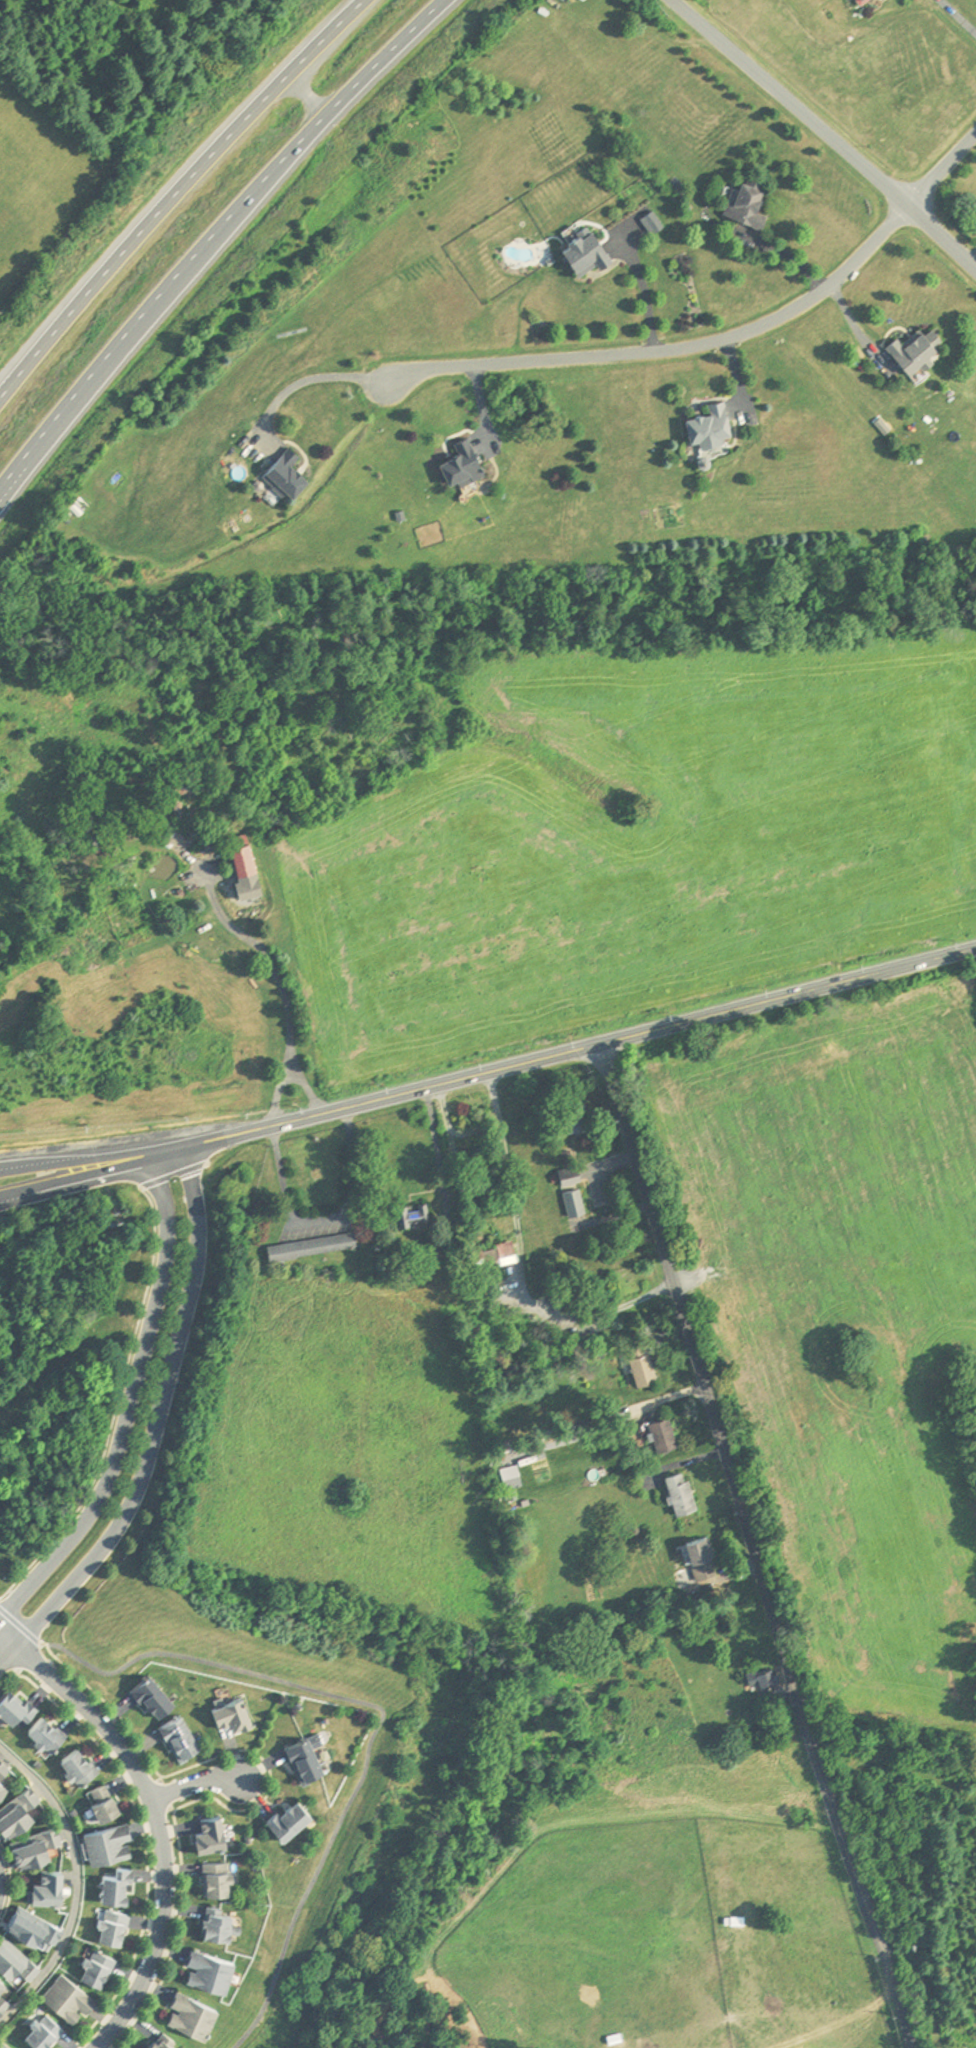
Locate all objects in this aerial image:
building: (874, 1)
building: (861, 2)
road: (957, 17)
road: (311, 92)
road: (827, 133)
road: (941, 171)
road: (175, 194)
building: (759, 205)
building: (660, 225)
road: (215, 239)
road: (784, 254)
building: (597, 257)
road: (971, 258)
road: (652, 297)
road: (854, 326)
road: (665, 349)
building: (915, 350)
road: (305, 379)
building: (722, 429)
building: (473, 466)
building: (296, 477)
building: (198, 792)
building: (96, 841)
crop: (642, 845)
building: (244, 871)
road: (258, 935)
road: (565, 1054)
road: (289, 1075)
building: (587, 1118)
road: (76, 1164)
road: (440, 1169)
building: (579, 1169)
road: (76, 1177)
building: (582, 1204)
building: (422, 1217)
road: (325, 1221)
building: (320, 1247)
building: (513, 1251)
road: (521, 1269)
crop: (847, 1318)
building: (652, 1371)
road: (111, 1391)
road: (128, 1404)
road: (610, 1423)
road: (156, 1432)
building: (672, 1436)
building: (691, 1495)
road: (759, 1547)
building: (711, 1560)
road: (2, 1611)
road: (47, 1644)
building: (773, 1680)
building: (151, 1693)
building: (15, 1703)
building: (233, 1712)
building: (49, 1733)
building: (178, 1736)
road: (366, 1748)
building: (304, 1757)
building: (4, 1765)
building: (80, 1765)
road: (194, 1780)
building: (3, 1784)
building: (104, 1799)
building: (16, 1812)
building: (289, 1816)
road: (154, 1817)
building: (209, 1832)
building: (107, 1841)
building: (37, 1846)
park: (934, 1863)
building: (217, 1875)
road: (4, 1880)
park: (1, 1881)
building: (49, 1884)
road: (75, 1884)
building: (117, 1884)
building: (218, 1920)
building: (33, 1922)
building: (114, 1922)
building: (16, 1955)
building: (98, 1965)
building: (210, 1967)
building: (3, 1978)
building: (69, 1993)
building: (4, 1997)
building: (192, 2011)
building: (44, 2028)
building: (166, 2040)

